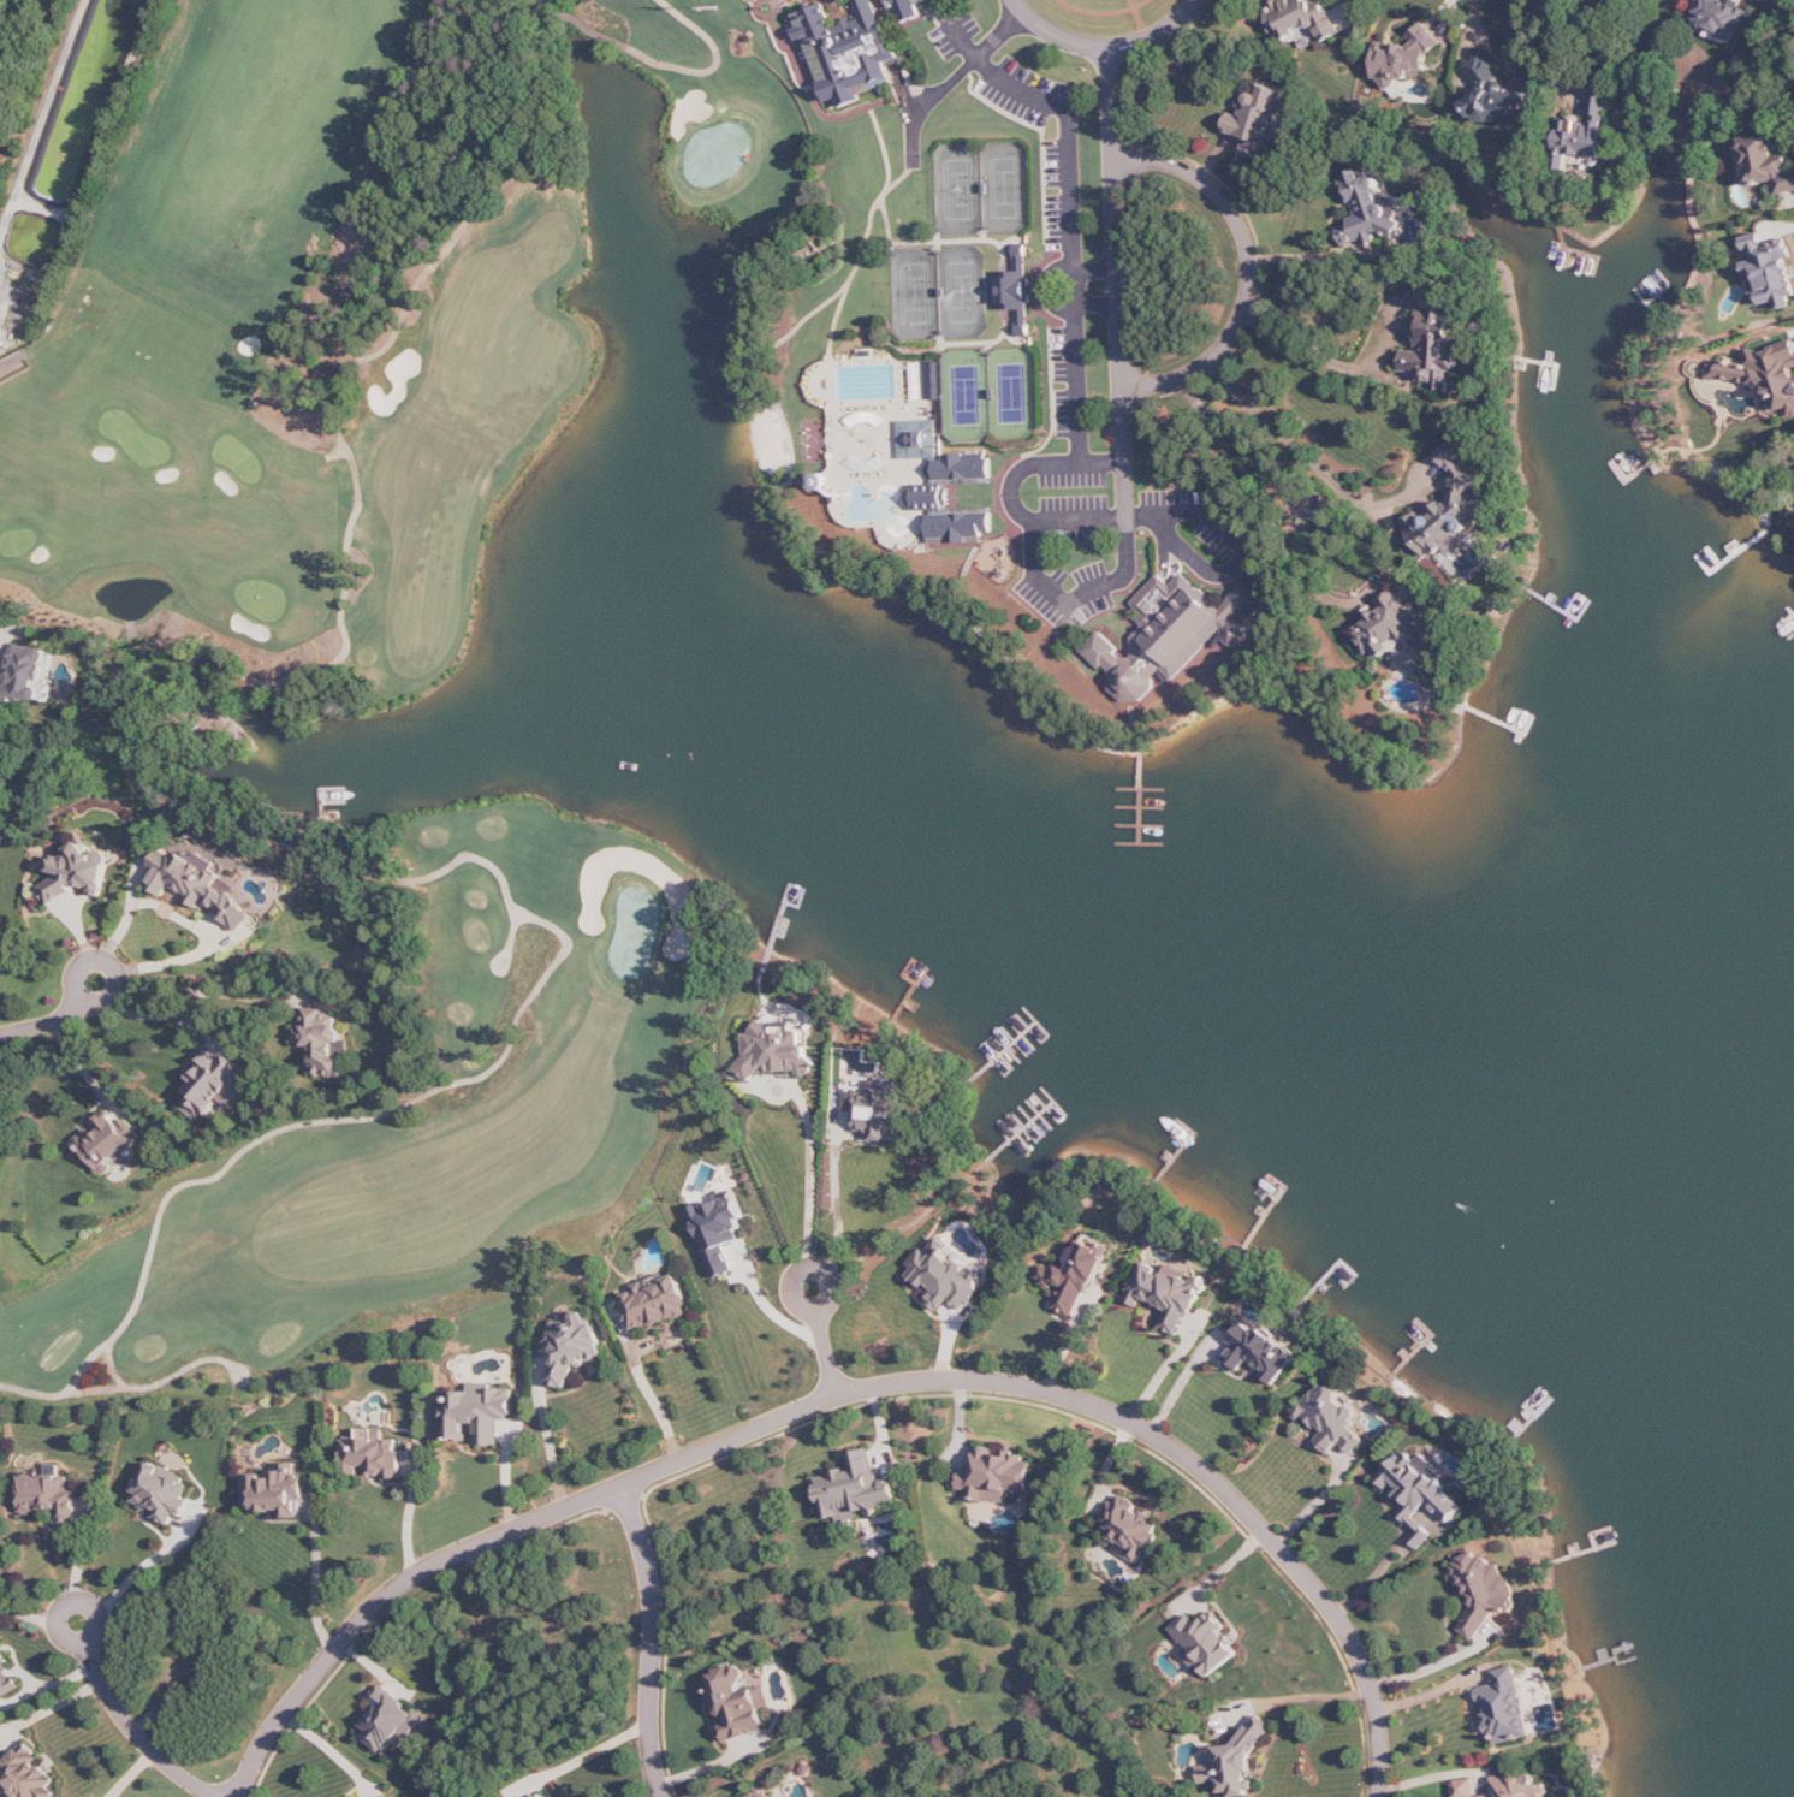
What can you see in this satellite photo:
building: (909, 7)
road: (1105, 11)
building: (1302, 19)
road: (1142, 20)
road: (1477, 20)
building: (1721, 20)
road: (581, 22)
road: (1164, 36)
road: (1057, 38)
road: (1564, 40)
building: (849, 52)
building: (1402, 61)
road: (714, 65)
road: (954, 79)
building: (1499, 95)
road: (1115, 103)
building: (1261, 120)
building: (1586, 135)
building: (1765, 162)
park: (1005, 186)
park: (960, 188)
road: (1073, 209)
building: (1368, 209)
road: (1789, 227)
road: (1311, 256)
road: (1249, 267)
building: (1770, 271)
park: (963, 289)
road: (1047, 289)
park: (917, 290)
building: (1016, 292)
road: (4, 293)
road: (55, 330)
road: (1122, 337)
building: (1433, 339)
road: (1303, 348)
road: (357, 367)
building: (1763, 372)
building: (934, 380)
park: (1012, 392)
park: (967, 393)
road: (1289, 437)
road: (1264, 452)
building: (946, 484)
road: (1012, 492)
building: (1449, 510)
road: (1244, 545)
road: (1077, 597)
building: (1390, 625)
road: (6, 627)
building: (1171, 635)
building: (29, 677)
park: (331, 705)
road: (129, 763)
building: (77, 874)
building: (201, 886)
road: (194, 923)
road: (112, 962)
road: (200, 990)
road: (167, 1015)
road: (46, 1024)
building: (322, 1042)
building: (776, 1051)
building: (213, 1086)
road: (422, 1098)
building: (878, 1110)
building: (109, 1143)
road: (812, 1175)
road: (838, 1198)
building: (720, 1233)
road: (809, 1268)
building: (945, 1276)
building: (1074, 1279)
building: (1168, 1295)
building: (657, 1303)
building: (574, 1348)
building: (1261, 1353)
road: (827, 1357)
road: (117, 1366)
road: (1165, 1369)
road: (161, 1383)
road: (1181, 1383)
road: (660, 1407)
road: (1103, 1410)
building: (479, 1415)
building: (1332, 1418)
road: (551, 1442)
building: (374, 1454)
building: (997, 1475)
building: (856, 1489)
building: (278, 1491)
building: (164, 1493)
building: (1420, 1493)
building: (51, 1496)
building: (1130, 1528)
road: (152, 1561)
road: (1373, 1578)
road: (317, 1587)
building: (1484, 1591)
road: (392, 1596)
road: (76, 1602)
road: (29, 1615)
road: (653, 1639)
building: (1207, 1643)
road: (1436, 1666)
building: (7, 1677)
road: (1300, 1697)
building: (739, 1703)
building: (1507, 1707)
building: (392, 1721)
road: (136, 1734)
road: (583, 1759)
building: (1237, 1760)
building: (25, 1775)
road: (1438, 1775)
building: (1465, 1787)
building: (1519, 1787)
building: (541, 1795)
building: (755, 1796)
building: (774, 1796)

